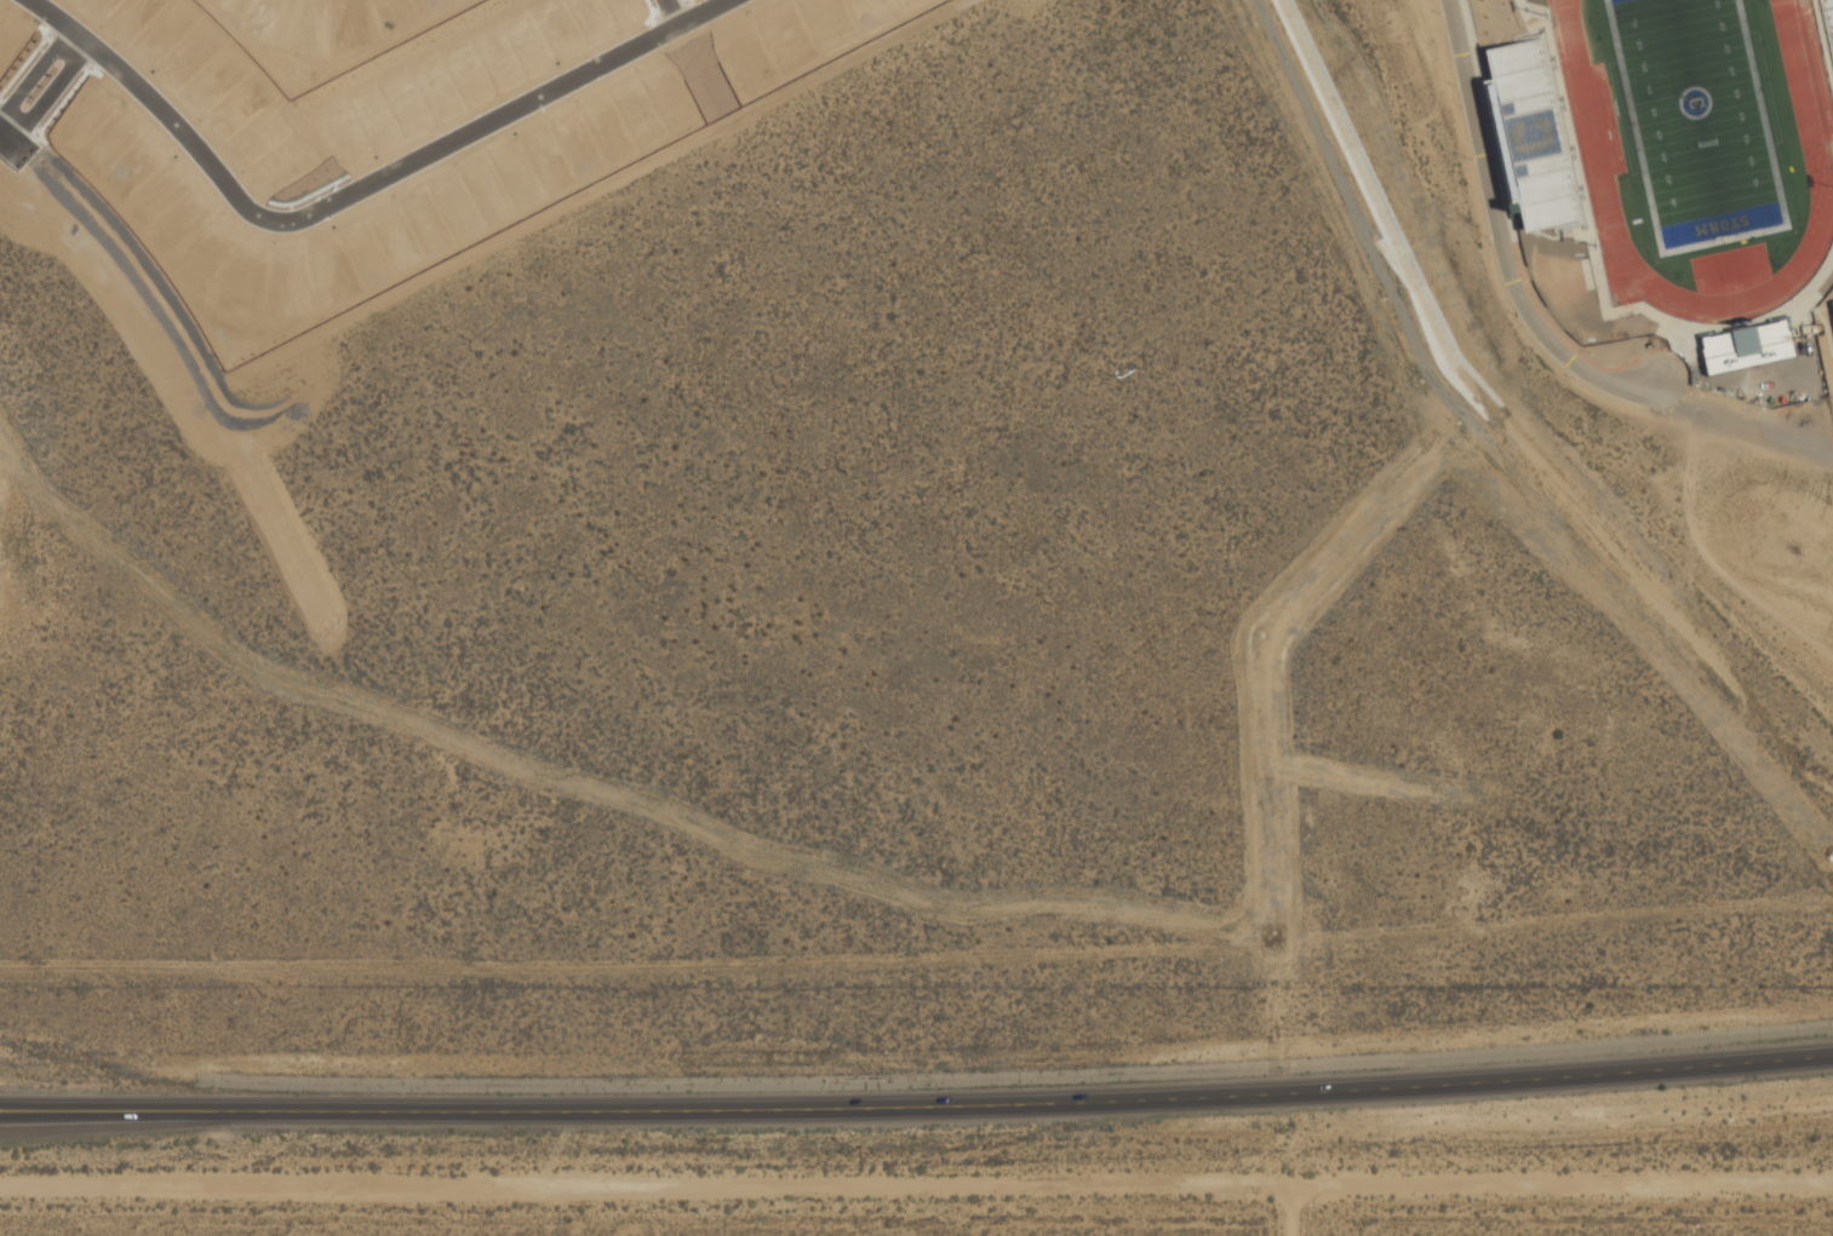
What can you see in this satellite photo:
road: (1518, 1)
road: (678, 12)
street lamp: (1439, 12)
building: (1827, 23)
road: (1823, 40)
street lamp: (1454, 86)
road: (58, 91)
road: (1564, 107)
road: (1483, 116)
park: (1696, 121)
track: (1697, 136)
track: (1815, 140)
track: (1700, 148)
street lamp: (1470, 161)
stadium: (1673, 176)
road: (365, 195)
road: (1497, 232)
street lamp: (1487, 238)
road: (120, 247)
road: (1815, 307)
building: (1831, 309)
street lamp: (1513, 316)
road: (1663, 317)
road: (1826, 330)
building: (1745, 347)
street lamp: (1661, 349)
street lamp: (1588, 353)
street lamp: (1571, 380)
building: (1643, 408)
street lamp: (1659, 415)
road: (917, 1098)
road: (916, 1185)
road: (1291, 1211)

